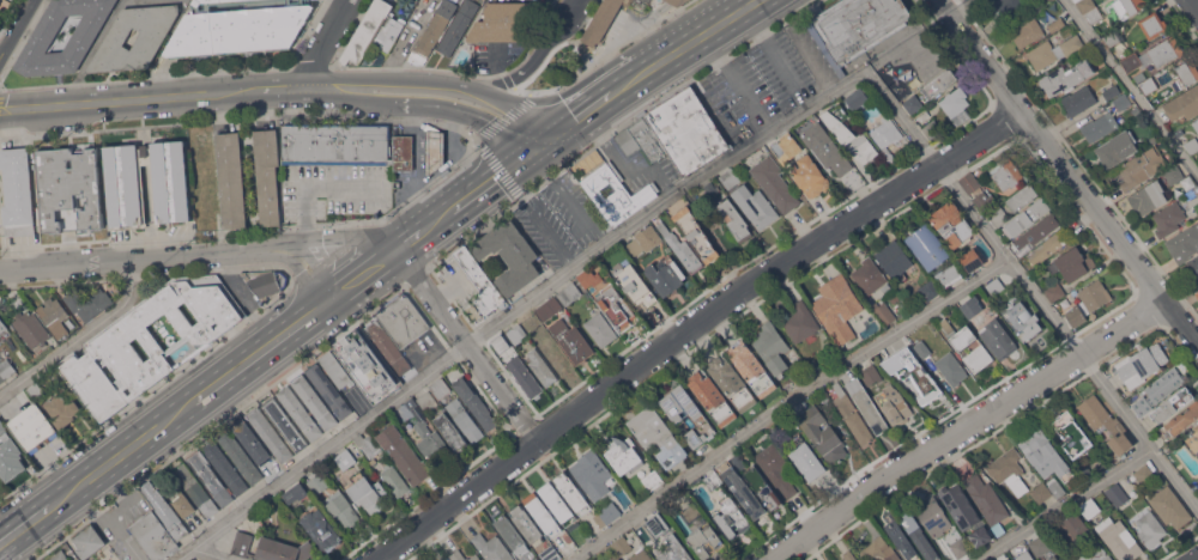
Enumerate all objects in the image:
road: (1197, 0)
building: (0, 1)
building: (673, 1)
building: (682, 2)
building: (1084, 5)
building: (1129, 6)
road: (961, 7)
building: (1011, 10)
building: (1094, 16)
building: (607, 20)
building: (506, 22)
building: (1057, 25)
building: (1152, 25)
building: (458, 26)
road: (17, 28)
building: (238, 28)
building: (855, 28)
building: (434, 30)
building: (367, 31)
building: (1027, 31)
building: (46, 32)
building: (389, 32)
building: (151, 38)
building: (1113, 39)
road: (322, 43)
road: (685, 45)
building: (1049, 51)
road: (538, 54)
building: (1155, 55)
road: (727, 72)
building: (1187, 72)
building: (927, 73)
building: (1066, 77)
road: (400, 79)
building: (939, 83)
road: (791, 85)
road: (1135, 85)
building: (1149, 86)
road: (308, 89)
road: (276, 90)
road: (226, 92)
building: (1112, 92)
building: (855, 98)
building: (1078, 99)
road: (102, 102)
building: (1123, 102)
building: (913, 103)
building: (955, 103)
road: (428, 104)
building: (1184, 104)
road: (522, 112)
road: (586, 112)
building: (1196, 123)
building: (1097, 128)
building: (686, 129)
building: (932, 129)
building: (885, 132)
building: (1179, 133)
traffic signals: (558, 134)
building: (849, 136)
road: (477, 140)
building: (642, 140)
road: (544, 144)
building: (338, 145)
building: (1192, 145)
building: (787, 147)
building: (827, 148)
building: (1115, 148)
building: (435, 150)
building: (404, 152)
traffic signals: (531, 153)
road: (625, 164)
building: (1142, 166)
building: (268, 175)
building: (1008, 175)
building: (1174, 175)
road: (1066, 176)
building: (810, 177)
building: (730, 178)
building: (231, 179)
road: (491, 182)
building: (969, 182)
building: (775, 184)
road: (314, 185)
building: (69, 189)
building: (17, 190)
building: (126, 191)
building: (615, 194)
building: (1190, 194)
road: (570, 196)
building: (1022, 196)
building: (1148, 196)
building: (985, 200)
building: (755, 206)
building: (999, 215)
building: (1027, 217)
road: (537, 219)
building: (734, 219)
building: (1168, 219)
building: (952, 224)
building: (1036, 233)
building: (696, 235)
road: (335, 238)
building: (643, 241)
building: (1184, 244)
building: (927, 245)
building: (1049, 246)
building: (682, 249)
road: (391, 254)
building: (509, 255)
building: (895, 258)
road: (137, 260)
building: (972, 260)
building: (1072, 263)
road: (308, 266)
building: (1191, 269)
building: (949, 274)
building: (869, 275)
building: (666, 276)
building: (589, 278)
building: (264, 281)
building: (479, 286)
building: (996, 286)
building: (635, 287)
building: (889, 288)
building: (930, 291)
road: (1030, 292)
building: (1054, 292)
building: (1197, 292)
building: (569, 293)
building: (894, 297)
building: (1088, 302)
building: (89, 303)
building: (616, 306)
building: (972, 306)
building: (549, 309)
building: (837, 309)
road: (518, 310)
building: (882, 311)
building: (54, 316)
building: (403, 319)
building: (1023, 321)
building: (800, 323)
building: (2, 324)
building: (31, 328)
building: (600, 329)
road: (691, 329)
building: (164, 330)
building: (516, 334)
road: (80, 336)
building: (997, 339)
building: (571, 341)
building: (968, 345)
building: (388, 347)
road: (467, 347)
building: (772, 348)
road: (261, 349)
building: (922, 349)
building: (367, 365)
building: (812, 365)
building: (1140, 365)
building: (6, 367)
building: (541, 367)
building: (751, 367)
building: (337, 369)
building: (951, 369)
building: (872, 373)
building: (913, 373)
building: (525, 377)
building: (1, 378)
building: (101, 381)
building: (732, 382)
building: (1166, 383)
road: (156, 385)
building: (440, 388)
building: (84, 389)
building: (36, 390)
building: (328, 390)
building: (712, 397)
building: (426, 400)
building: (314, 402)
building: (474, 402)
road: (788, 403)
building: (1172, 403)
building: (866, 404)
building: (895, 404)
building: (1142, 406)
building: (62, 409)
building: (299, 413)
building: (849, 413)
building: (689, 414)
building: (829, 418)
building: (465, 420)
building: (1180, 421)
building: (38, 422)
road: (218, 422)
building: (285, 424)
building: (1107, 424)
building: (2, 426)
road: (968, 430)
building: (426, 432)
building: (450, 432)
building: (24, 433)
building: (270, 433)
building: (1072, 433)
building: (658, 434)
building: (822, 434)
building: (249, 438)
building: (1192, 440)
building: (369, 444)
building: (1042, 451)
road: (121, 454)
building: (404, 455)
building: (622, 455)
building: (240, 456)
building: (10, 457)
building: (345, 458)
building: (739, 461)
building: (807, 461)
building: (225, 468)
building: (776, 470)
building: (1008, 470)
building: (592, 473)
building: (1144, 474)
building: (210, 477)
building: (653, 480)
building: (713, 480)
building: (395, 481)
building: (317, 483)
building: (1057, 486)
building: (381, 487)
building: (742, 488)
building: (195, 489)
building: (764, 491)
building: (573, 492)
building: (1041, 492)
building: (1120, 492)
building: (367, 493)
building: (296, 494)
building: (987, 500)
building: (183, 504)
building: (557, 504)
road: (1067, 505)
building: (1170, 506)
building: (961, 507)
building: (1091, 507)
building: (340, 509)
building: (165, 511)
building: (543, 513)
building: (606, 513)
building: (730, 517)
building: (934, 517)
road: (25, 524)
building: (527, 524)
building: (658, 524)
building: (1072, 525)
building: (321, 528)
building: (1150, 529)
building: (985, 534)
building: (153, 535)
building: (512, 535)
building: (919, 535)
building: (1119, 538)
building: (87, 540)
building: (901, 540)
building: (706, 541)
building: (621, 546)
building: (1039, 546)
building: (958, 547)
building: (271, 548)
building: (492, 548)
building: (879, 550)
road: (213, 553)
building: (550, 553)
building: (676, 553)
building: (640, 554)
building: (1093, 554)
building: (60, 555)
building: (462, 555)
building: (848, 555)
building: (1024, 555)
building: (613, 558)
building: (1053, 558)
building: (109, 559)
building: (446, 559)
building: (527, 559)
building: (536, 559)
building: (1008, 559)
building: (1061, 559)
building: (1064, 559)
road: (1196, 559)

